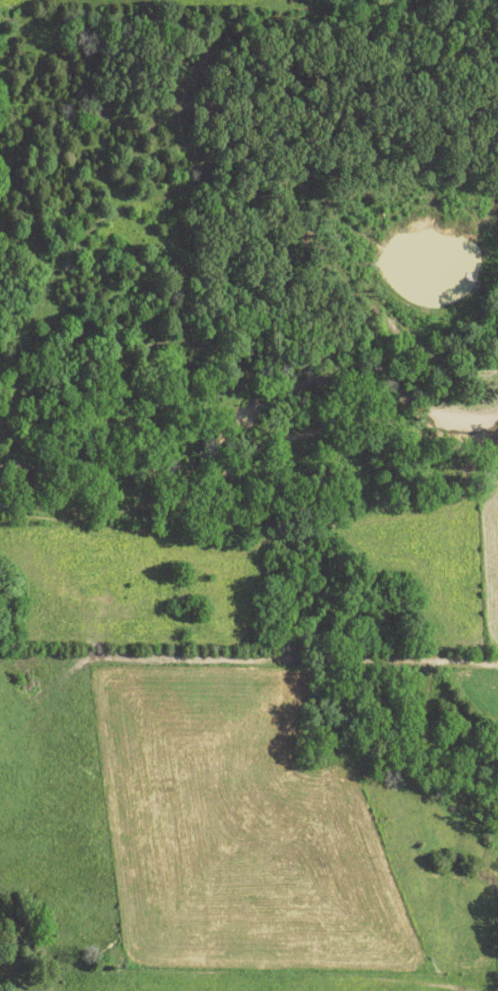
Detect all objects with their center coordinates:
road: (308, 974)

